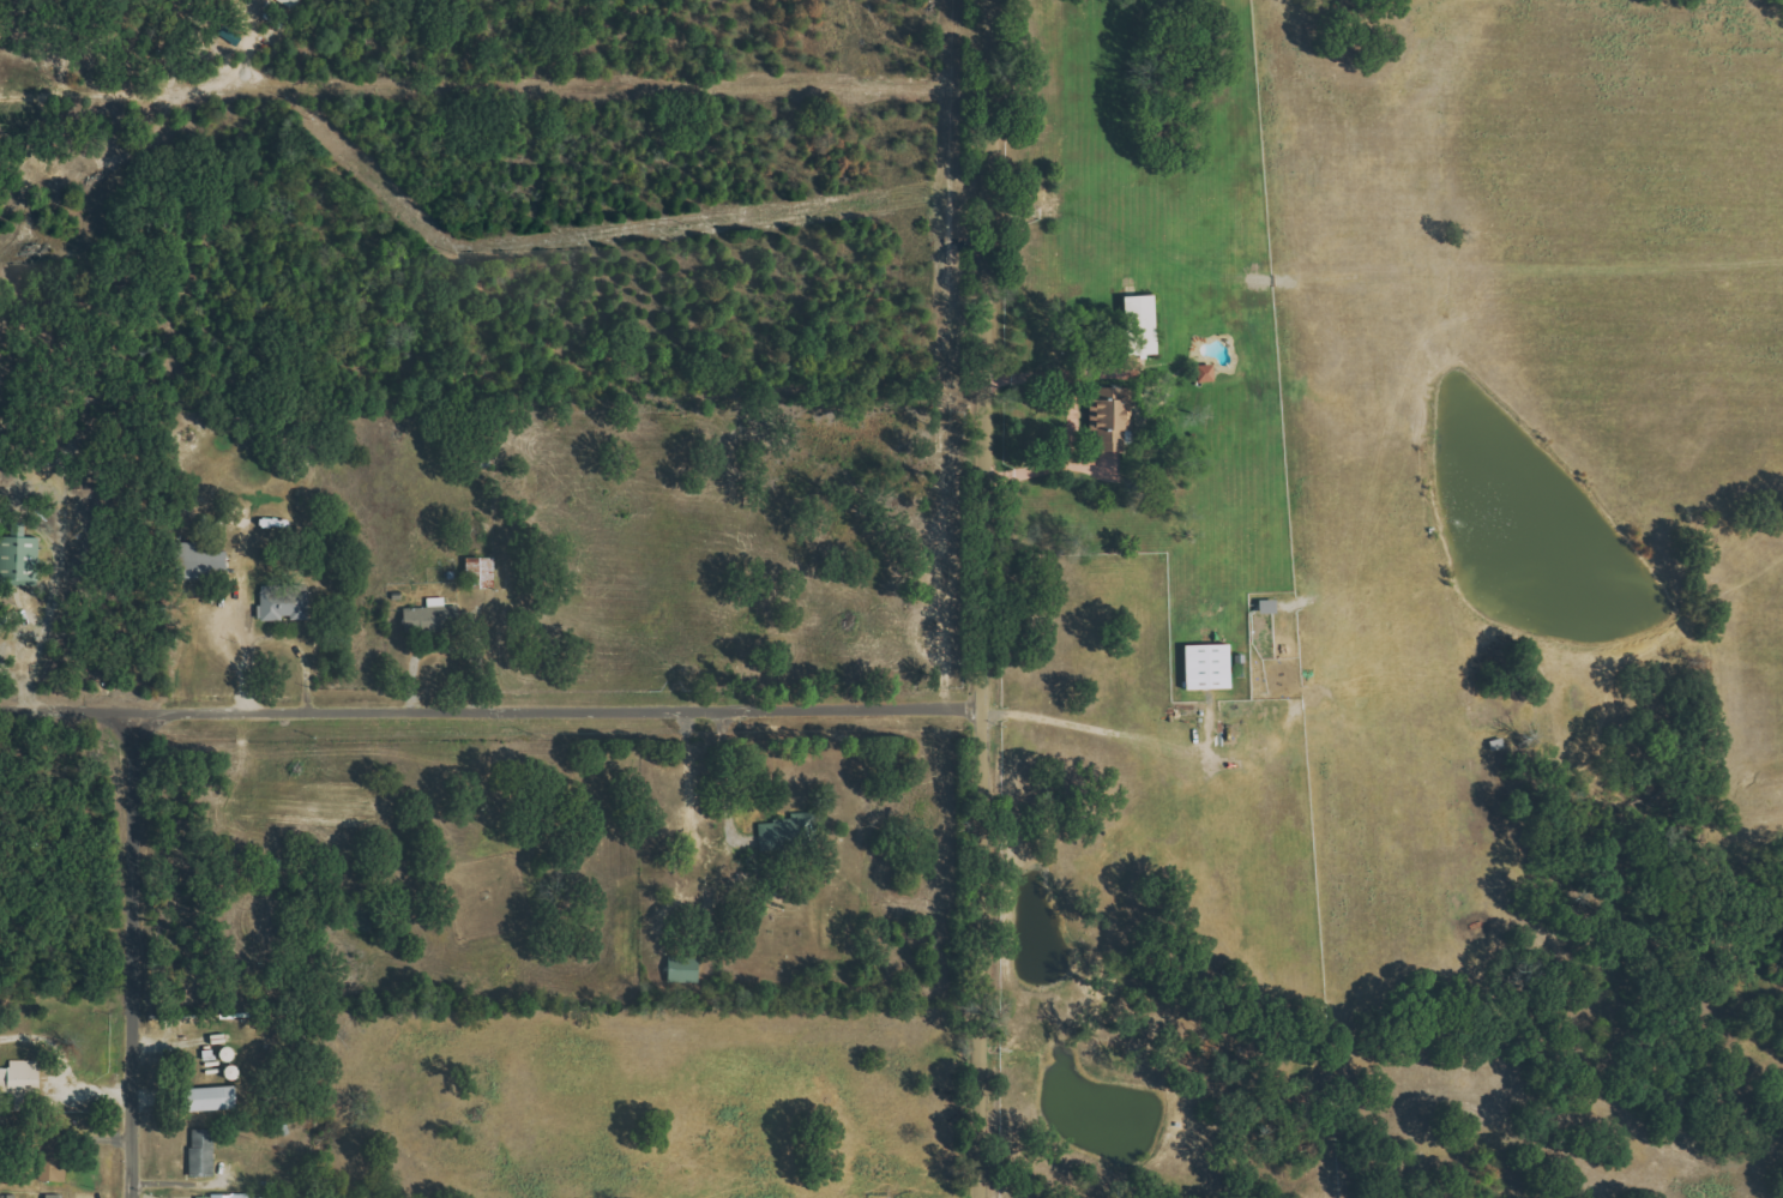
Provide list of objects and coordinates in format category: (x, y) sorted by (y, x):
building: (296, 4)
building: (1138, 325)
building: (1204, 373)
building: (1106, 417)
road: (1073, 421)
building: (17, 559)
building: (197, 561)
building: (480, 571)
road: (981, 598)
building: (283, 602)
building: (1266, 606)
building: (1205, 666)
road: (490, 709)
road: (1084, 722)
building: (787, 832)
road: (132, 955)
building: (681, 970)
road: (65, 1065)
building: (24, 1083)
building: (209, 1098)
building: (200, 1152)
building: (55, 1157)
building: (58, 1196)
building: (223, 1196)

